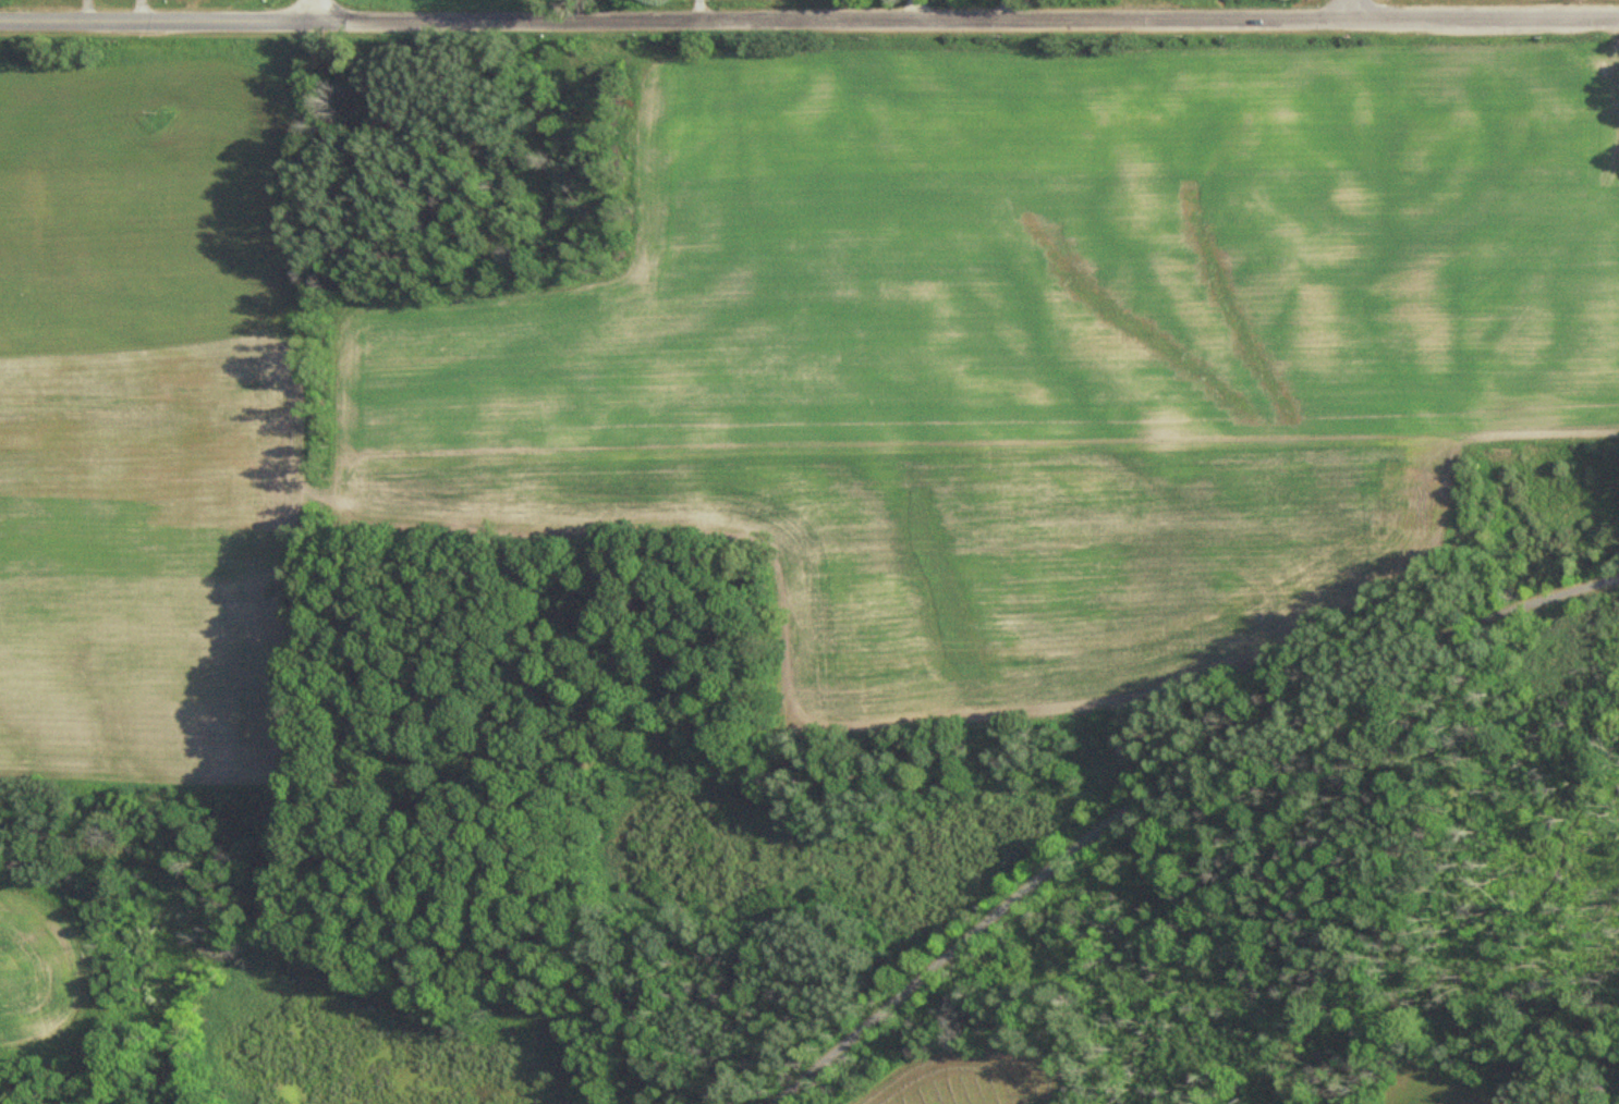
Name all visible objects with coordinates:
road: (1349, 8)
road: (318, 11)
road: (967, 17)
road: (159, 21)
road: (1156, 775)

